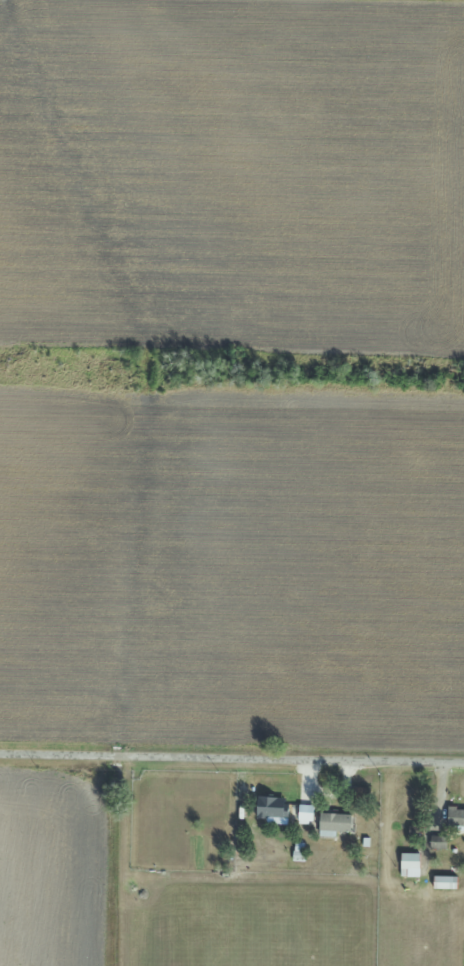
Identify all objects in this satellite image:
road: (232, 762)
building: (298, 812)
building: (454, 818)
building: (335, 822)
building: (434, 842)
building: (406, 864)
crop: (50, 870)
building: (440, 882)

